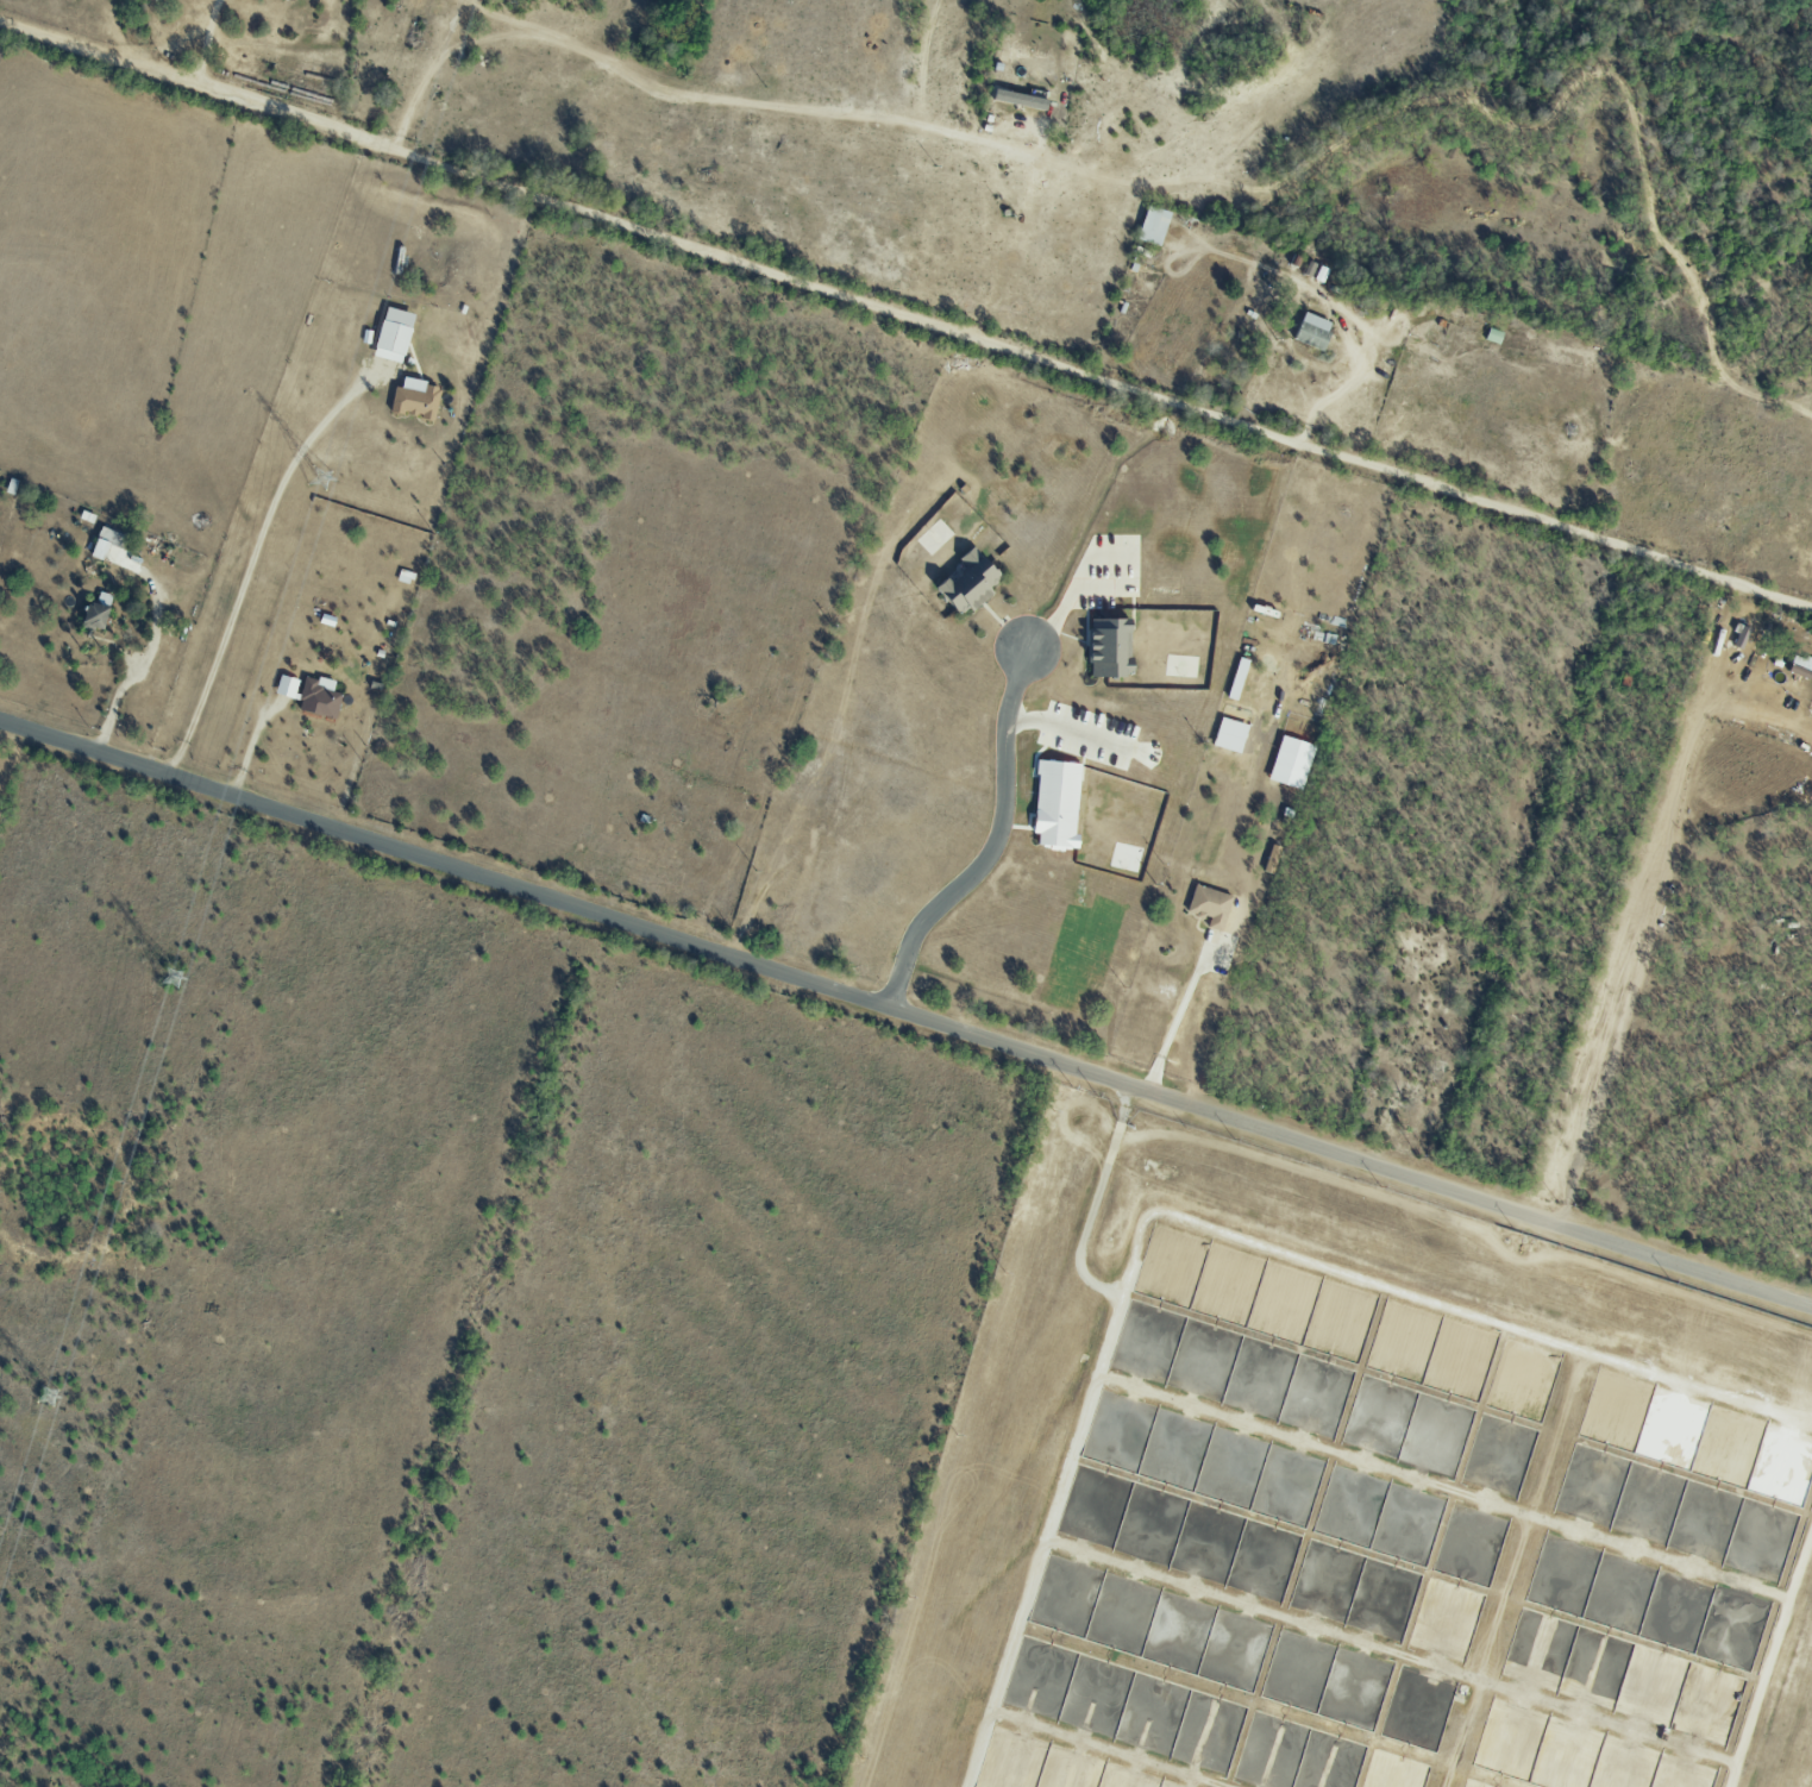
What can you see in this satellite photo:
building: (283, 0)
road: (488, 33)
road: (202, 42)
road: (431, 76)
road: (733, 102)
building: (1152, 225)
road: (1268, 265)
road: (904, 318)
building: (1312, 331)
building: (393, 334)
building: (415, 399)
power tower: (322, 483)
building: (111, 537)
road: (247, 565)
building: (405, 576)
building: (967, 583)
road: (1070, 584)
building: (94, 616)
building: (1109, 647)
building: (1236, 678)
building: (286, 685)
building: (318, 697)
road: (113, 701)
road: (1068, 715)
building: (1229, 734)
road: (247, 746)
building: (1291, 761)
building: (1055, 803)
road: (995, 842)
road: (1643, 899)
building: (1209, 905)
power tower: (173, 982)
road: (905, 1014)
road: (1173, 1024)
road: (1126, 1110)
road: (1196, 1217)
road: (1471, 1221)
road: (1090, 1224)
power tower: (46, 1397)
wastewater plant: (1343, 1499)
road: (1772, 1663)

